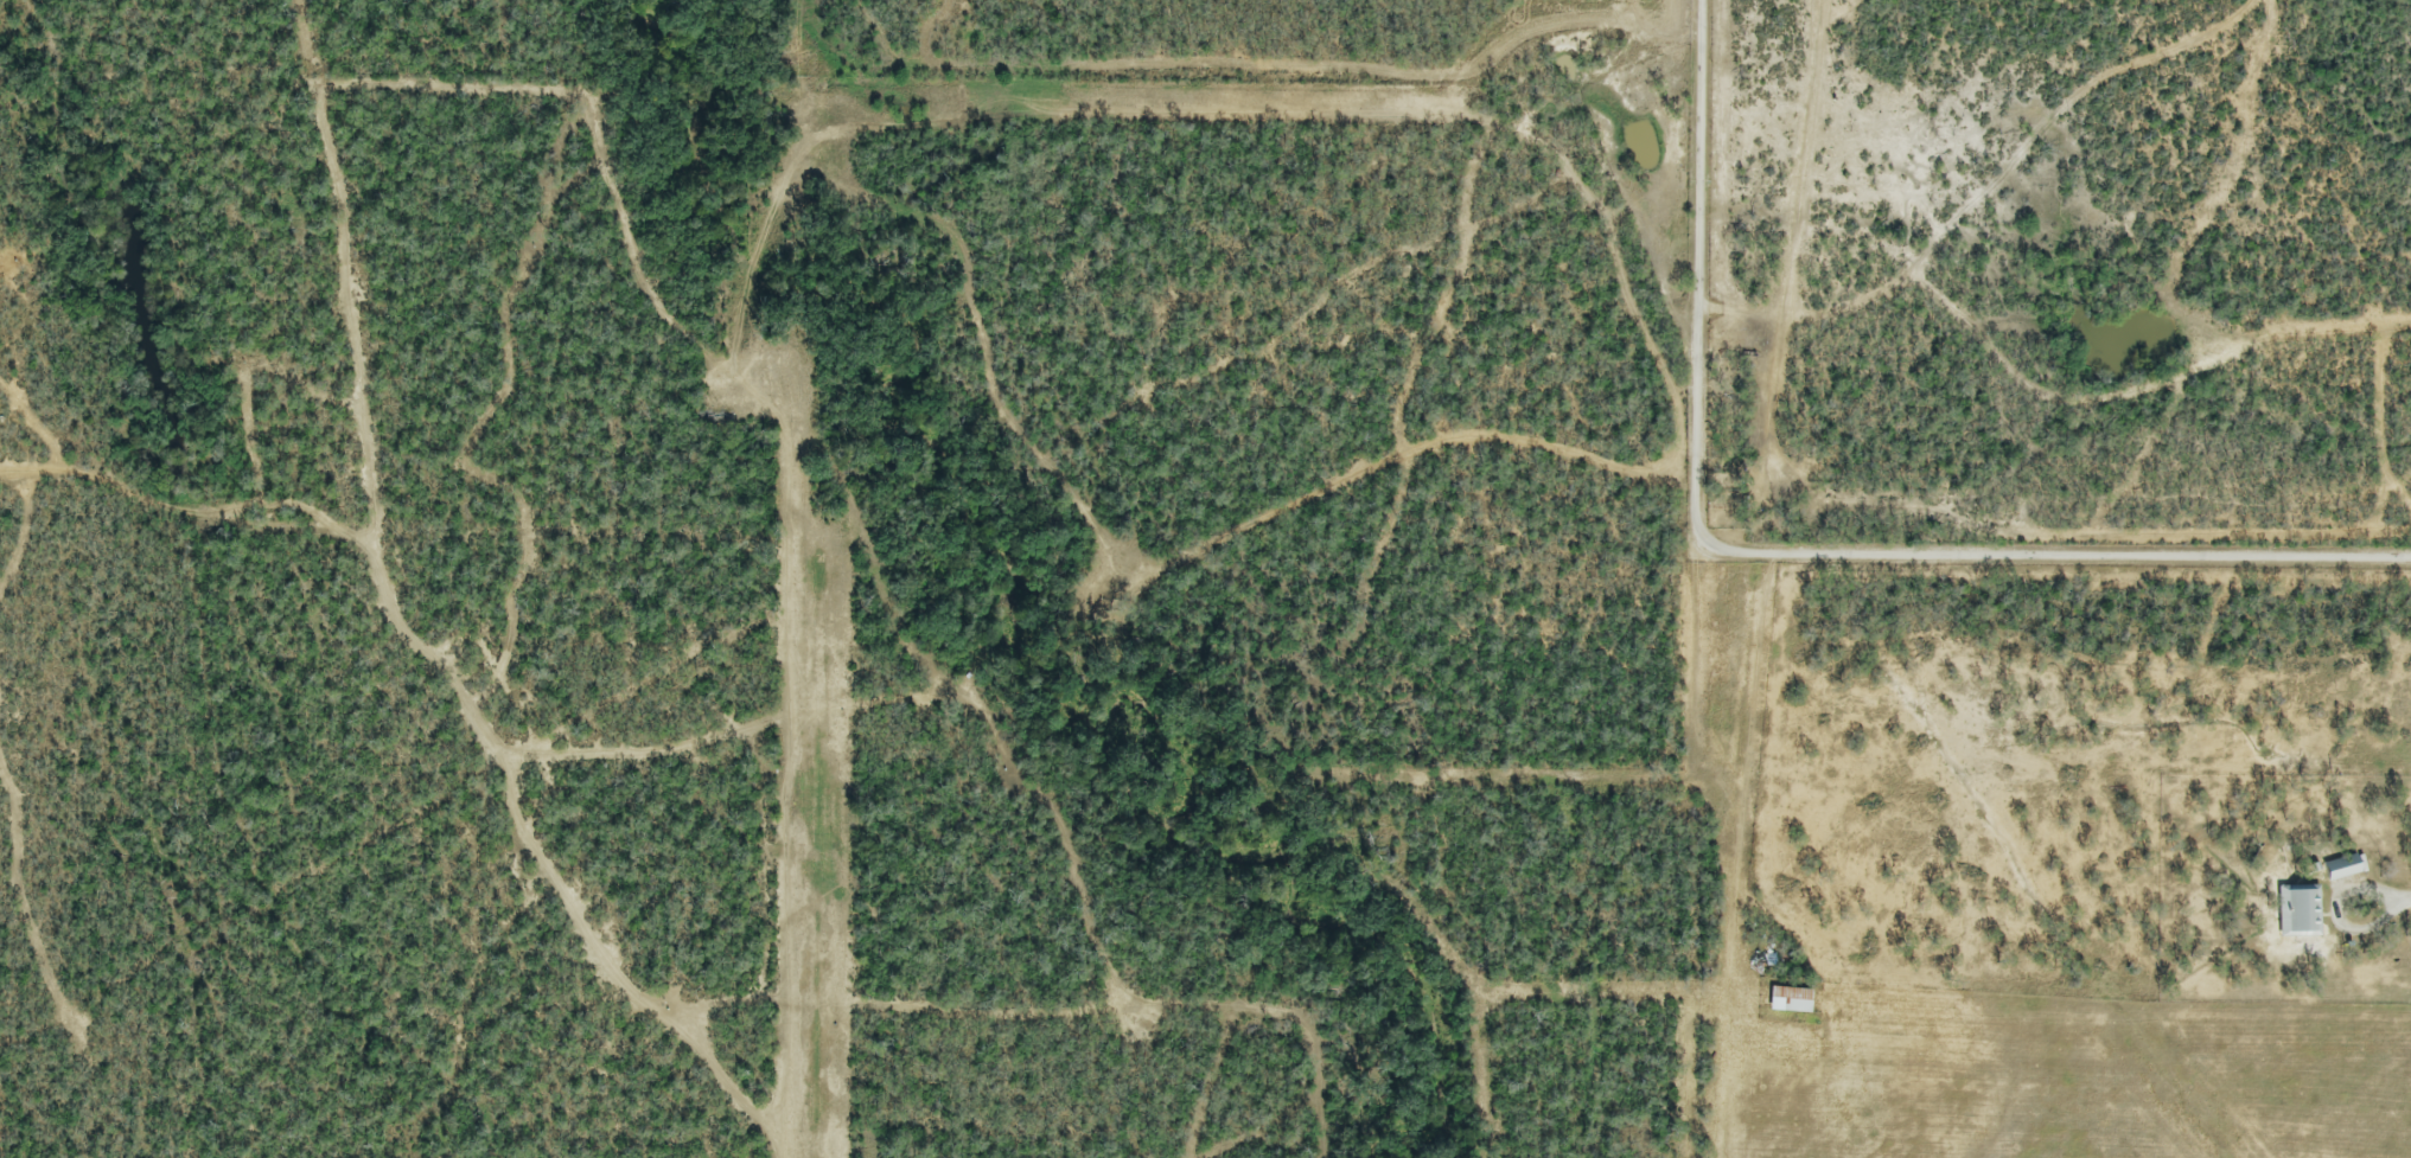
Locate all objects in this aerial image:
road: (1780, 555)
building: (2341, 869)
road: (2404, 898)
building: (2298, 913)
building: (1788, 1002)

